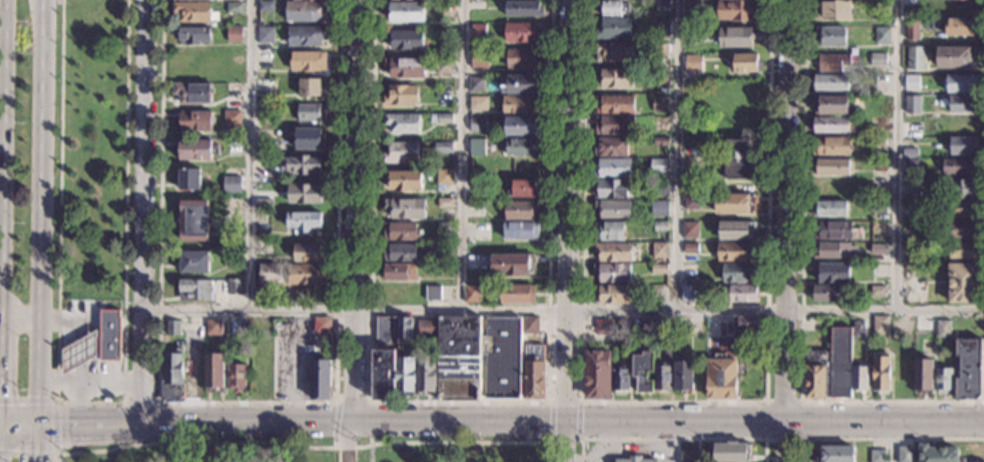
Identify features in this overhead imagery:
building: (180, 0)
building: (309, 0)
building: (661, 5)
building: (266, 6)
building: (235, 7)
building: (693, 7)
building: (523, 8)
building: (613, 8)
building: (737, 10)
building: (833, 10)
building: (193, 12)
building: (306, 12)
building: (406, 12)
building: (960, 27)
building: (662, 28)
building: (614, 29)
building: (913, 29)
building: (479, 32)
building: (522, 32)
building: (234, 34)
building: (193, 35)
building: (266, 35)
building: (881, 35)
building: (307, 36)
building: (693, 36)
building: (831, 36)
building: (737, 37)
building: (405, 39)
road: (0, 45)
building: (446, 49)
building: (661, 51)
building: (614, 52)
building: (955, 57)
building: (523, 58)
building: (916, 58)
building: (480, 59)
building: (878, 59)
building: (308, 61)
building: (693, 62)
building: (832, 62)
building: (746, 63)
building: (445, 66)
building: (405, 67)
building: (662, 76)
building: (617, 78)
building: (830, 82)
building: (911, 82)
building: (961, 83)
building: (476, 84)
building: (522, 84)
building: (268, 85)
building: (310, 87)
building: (234, 90)
building: (193, 93)
building: (401, 95)
building: (479, 104)
building: (521, 104)
building: (615, 104)
building: (660, 104)
building: (912, 104)
building: (962, 104)
building: (830, 105)
building: (267, 109)
building: (308, 112)
building: (433, 117)
building: (233, 118)
building: (445, 118)
building: (195, 121)
building: (402, 124)
building: (661, 124)
building: (911, 124)
building: (962, 124)
building: (478, 125)
building: (833, 125)
building: (614, 126)
building: (522, 127)
building: (309, 139)
building: (661, 141)
building: (478, 146)
building: (832, 146)
building: (962, 146)
building: (234, 147)
building: (443, 147)
building: (521, 147)
building: (611, 147)
building: (196, 149)
park: (92, 151)
building: (401, 152)
building: (910, 153)
road: (677, 154)
road: (898, 154)
road: (252, 155)
road: (462, 155)
building: (737, 159)
building: (911, 164)
building: (263, 165)
building: (302, 165)
building: (657, 166)
building: (961, 167)
building: (611, 168)
building: (831, 168)
building: (444, 177)
building: (189, 179)
building: (404, 180)
building: (690, 183)
building: (231, 184)
building: (661, 188)
building: (525, 189)
building: (611, 189)
building: (962, 189)
building: (305, 194)
building: (691, 202)
building: (445, 203)
building: (735, 204)
building: (405, 208)
building: (659, 208)
building: (879, 208)
building: (613, 209)
building: (829, 209)
building: (910, 209)
building: (962, 209)
building: (520, 210)
road: (356, 212)
road: (787, 212)
road: (42, 213)
road: (143, 213)
building: (194, 221)
building: (303, 221)
building: (661, 226)
building: (690, 229)
building: (444, 230)
building: (520, 230)
building: (735, 230)
building: (832, 230)
building: (879, 230)
building: (962, 230)
building: (401, 231)
road: (568, 231)
building: (610, 231)
building: (493, 237)
building: (232, 243)
building: (690, 248)
building: (660, 250)
building: (832, 250)
building: (878, 250)
building: (963, 250)
building: (613, 251)
building: (734, 251)
building: (400, 252)
building: (308, 253)
building: (230, 259)
building: (194, 262)
building: (512, 265)
building: (659, 268)
building: (270, 272)
building: (400, 272)
building: (612, 272)
building: (831, 272)
building: (737, 273)
building: (306, 275)
building: (963, 283)
building: (233, 286)
building: (196, 290)
building: (877, 291)
road: (801, 292)
building: (432, 293)
building: (661, 293)
building: (685, 293)
building: (743, 293)
building: (826, 293)
building: (472, 294)
building: (517, 294)
building: (258, 295)
building: (612, 295)
road: (562, 308)
building: (748, 324)
building: (321, 325)
building: (530, 325)
building: (880, 325)
building: (968, 325)
building: (212, 327)
building: (234, 327)
building: (427, 327)
building: (603, 327)
building: (646, 327)
building: (172, 328)
building: (382, 329)
building: (403, 329)
building: (858, 329)
building: (942, 329)
road: (77, 334)
building: (109, 335)
building: (527, 340)
building: (78, 352)
gas station: (78, 352)
building: (478, 357)
building: (829, 368)
building: (968, 369)
building: (643, 371)
building: (881, 371)
building: (214, 372)
building: (534, 372)
building: (426, 374)
building: (923, 374)
building: (383, 375)
building: (597, 375)
road: (295, 376)
building: (405, 376)
building: (683, 376)
building: (172, 377)
building: (236, 377)
building: (662, 377)
building: (620, 378)
building: (859, 378)
building: (320, 379)
building: (721, 379)
building: (943, 381)
road: (91, 382)
building: (106, 400)
road: (564, 401)
road: (800, 401)
road: (459, 402)
road: (672, 402)
road: (91, 403)
road: (140, 403)
road: (246, 403)
road: (370, 406)
road: (580, 420)
road: (549, 422)
road: (884, 423)
road: (333, 424)
road: (412, 425)
road: (54, 426)
road: (9, 427)
road: (29, 427)
traffic signals: (39, 427)
road: (983, 430)
road: (892, 438)
road: (673, 440)
road: (565, 441)
road: (783, 442)
road: (892, 442)
road: (673, 443)
road: (39, 444)
road: (352, 444)
road: (298, 446)
park: (296, 449)
road: (546, 452)
road: (369, 453)
building: (733, 453)
building: (836, 454)
building: (905, 454)
building: (938, 454)
road: (109, 455)
building: (688, 455)
building: (877, 456)
building: (634, 459)

